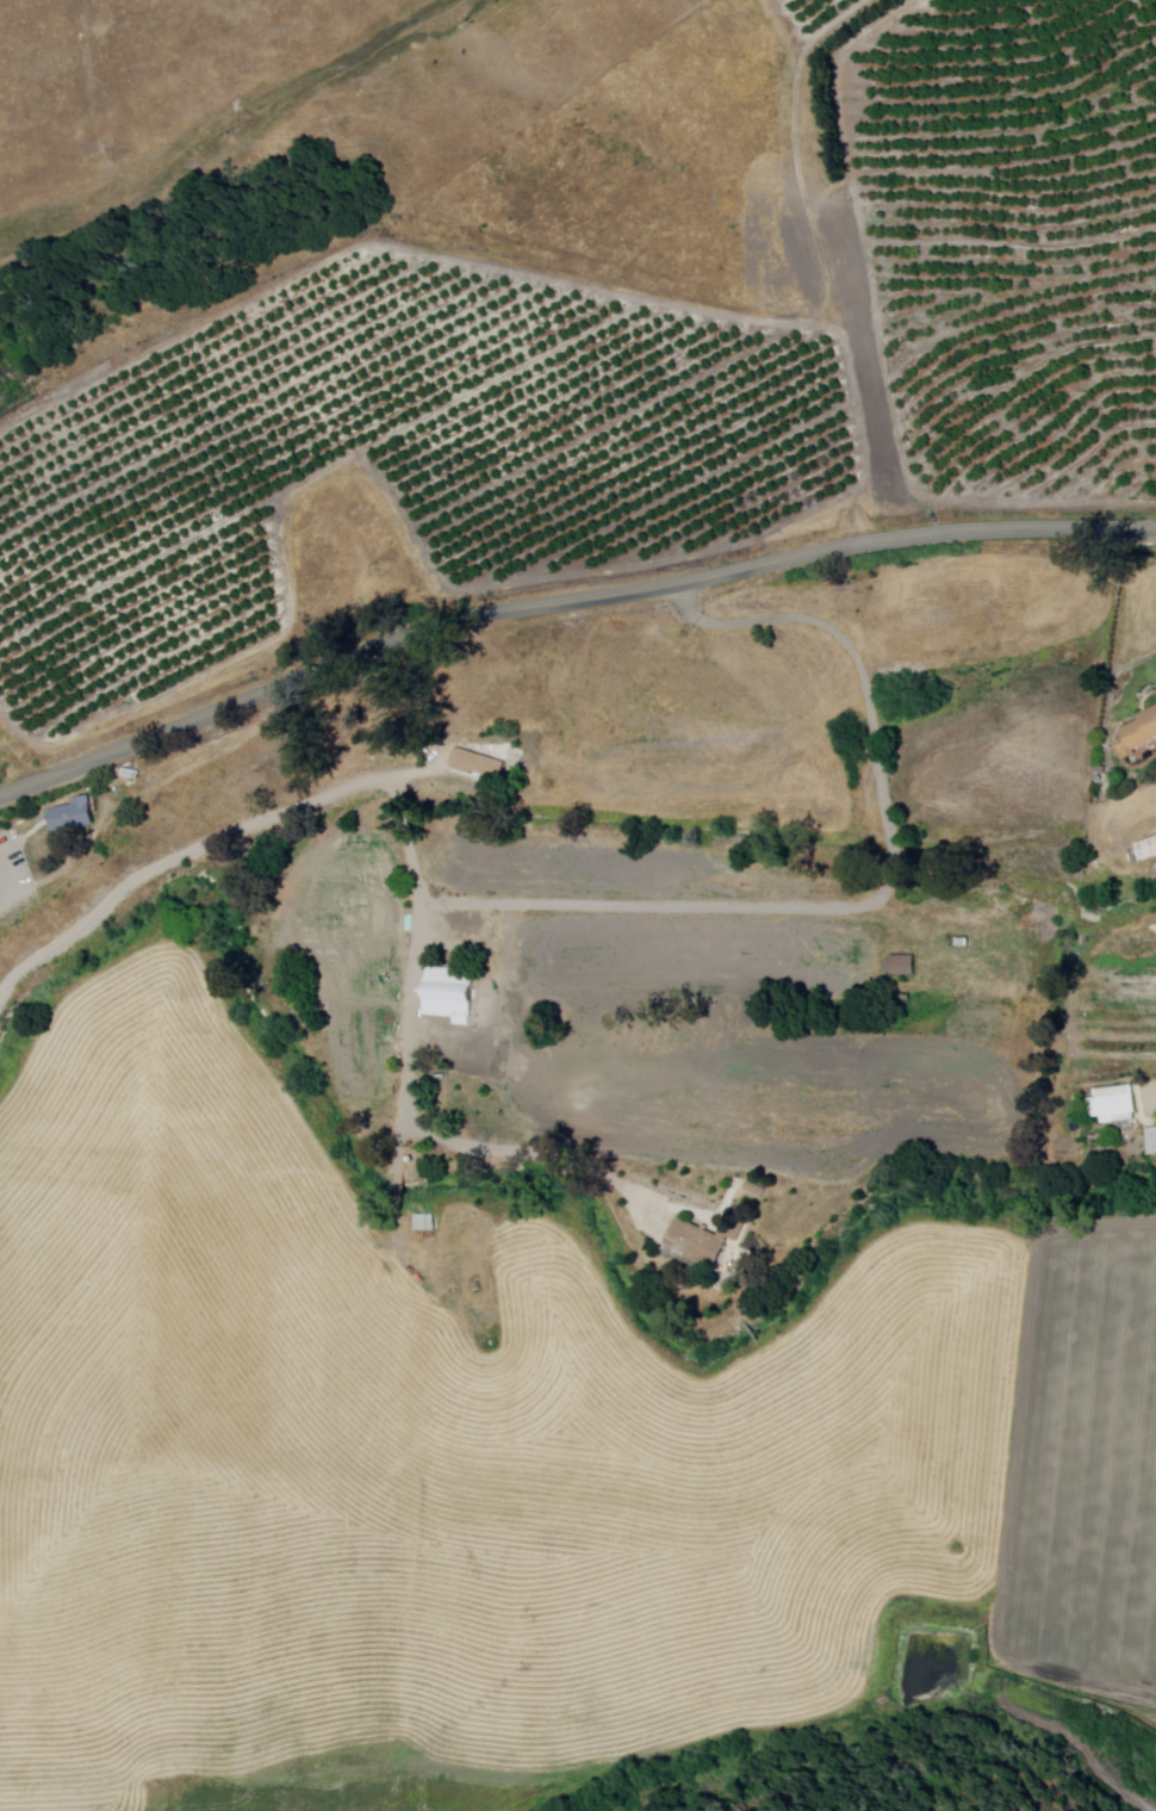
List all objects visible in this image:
road: (564, 602)
crop: (976, 616)
building: (1137, 736)
crop: (1006, 753)
building: (477, 764)
building: (131, 775)
building: (72, 817)
road: (403, 827)
building: (1145, 851)
crop: (609, 875)
road: (650, 910)
building: (902, 966)
building: (449, 996)
crop: (1115, 1029)
crop: (739, 1049)
crop: (137, 1096)
building: (1112, 1105)
building: (1151, 1140)
building: (398, 1185)
building: (754, 1190)
building: (424, 1221)
building: (704, 1241)
crop: (546, 1290)
crop: (305, 1357)
crop: (889, 1400)
crop: (1089, 1474)
crop: (384, 1638)

